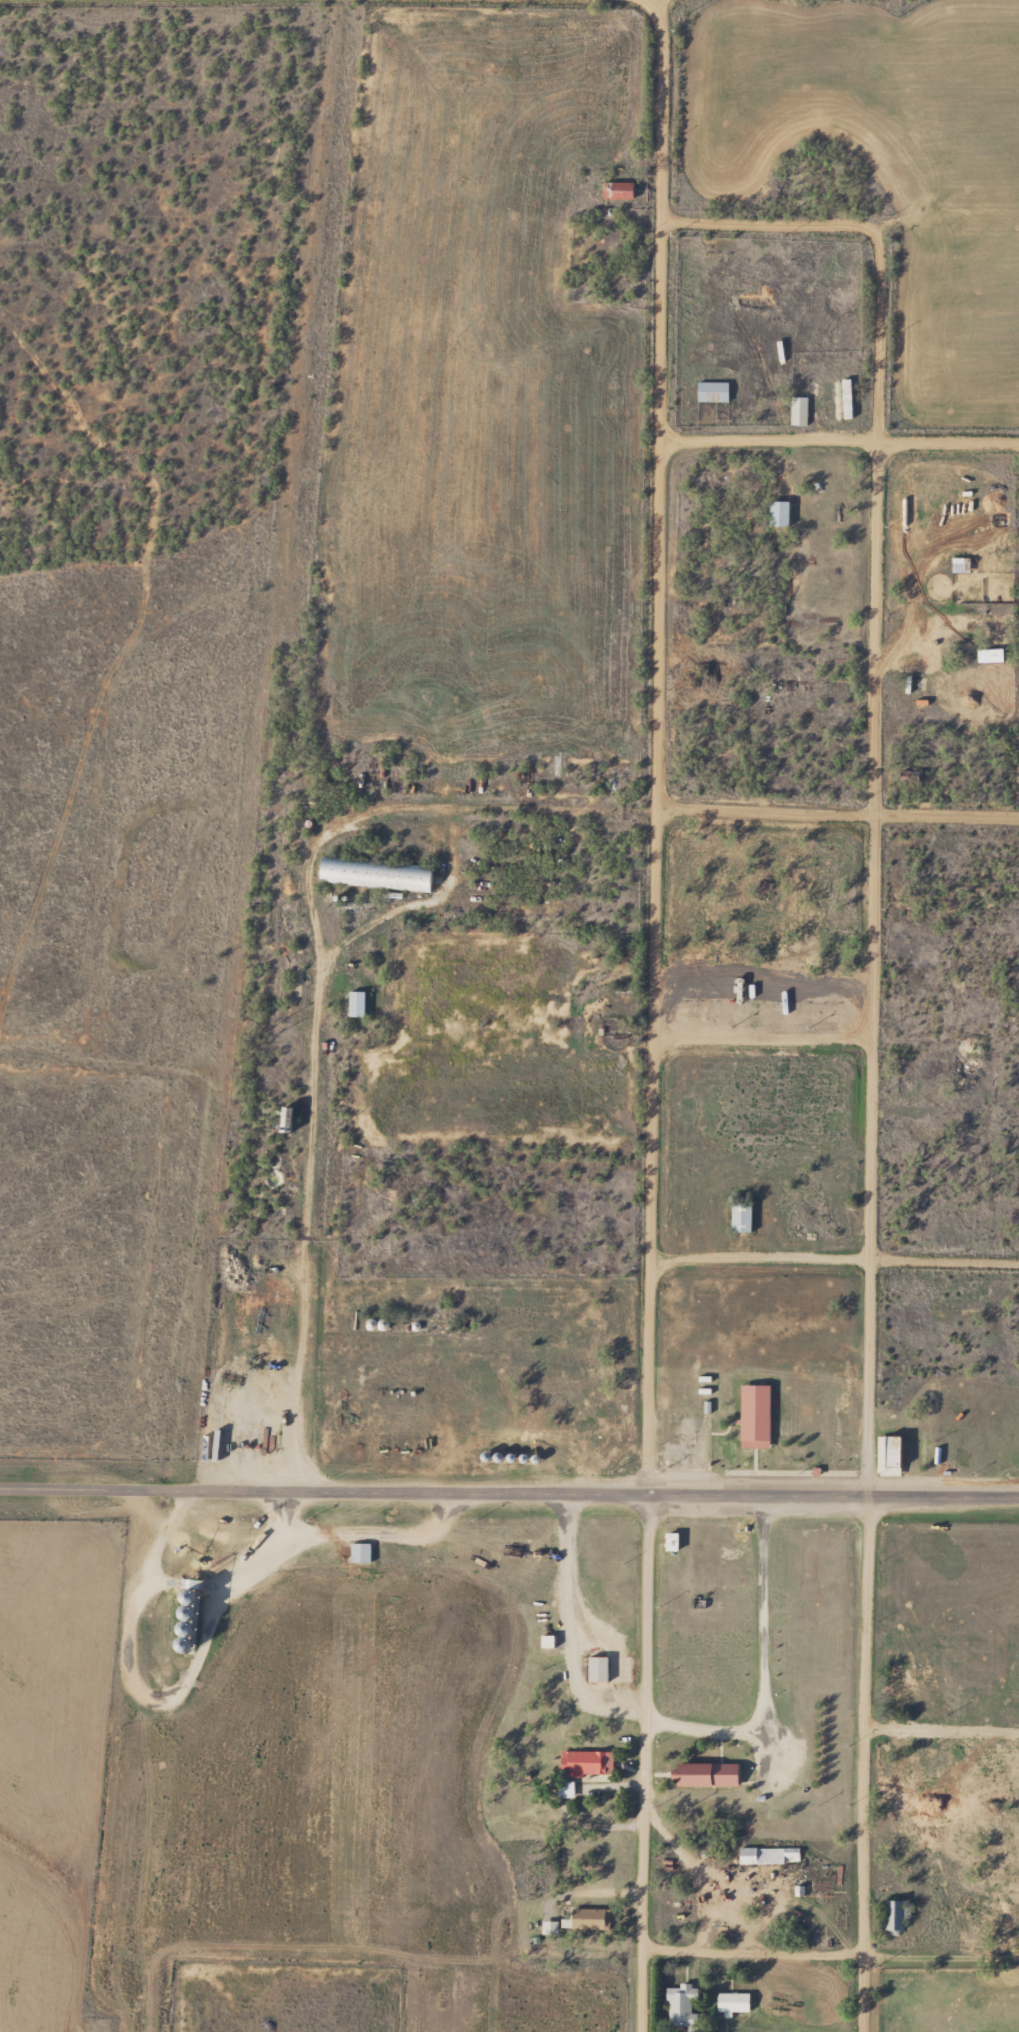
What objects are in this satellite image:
road: (645, 3)
road: (654, 3)
building: (613, 190)
building: (708, 392)
building: (835, 402)
building: (795, 411)
road: (840, 442)
building: (774, 514)
building: (956, 565)
building: (985, 655)
building: (955, 692)
road: (656, 748)
road: (872, 770)
road: (837, 818)
building: (370, 874)
building: (351, 1004)
railway: (211, 1013)
road: (758, 1041)
building: (908, 1087)
building: (282, 1127)
building: (288, 1155)
building: (737, 1218)
road: (834, 1260)
building: (255, 1292)
building: (750, 1416)
building: (586, 1452)
building: (887, 1453)
road: (86, 1490)
road: (596, 1493)
building: (666, 1543)
building: (356, 1554)
building: (543, 1642)
road: (760, 1662)
building: (593, 1669)
building: (894, 1686)
road: (940, 1733)
building: (578, 1763)
road: (641, 1763)
road: (860, 1763)
building: (894, 1772)
building: (700, 1775)
building: (764, 1856)
building: (893, 1915)
building: (584, 1920)
road: (828, 1958)
building: (729, 2002)
building: (676, 2005)

